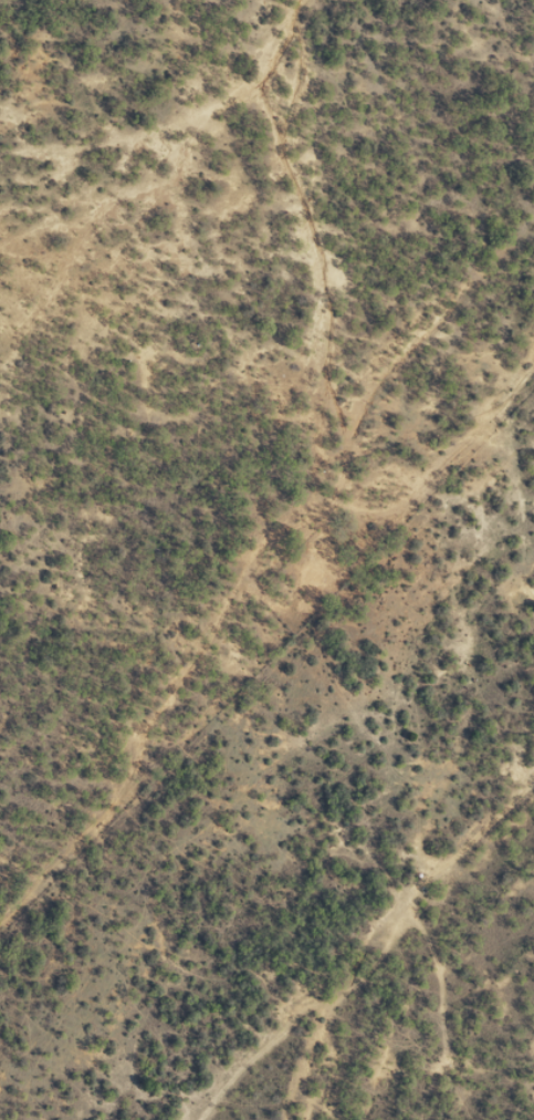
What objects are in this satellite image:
road: (163, 128)

